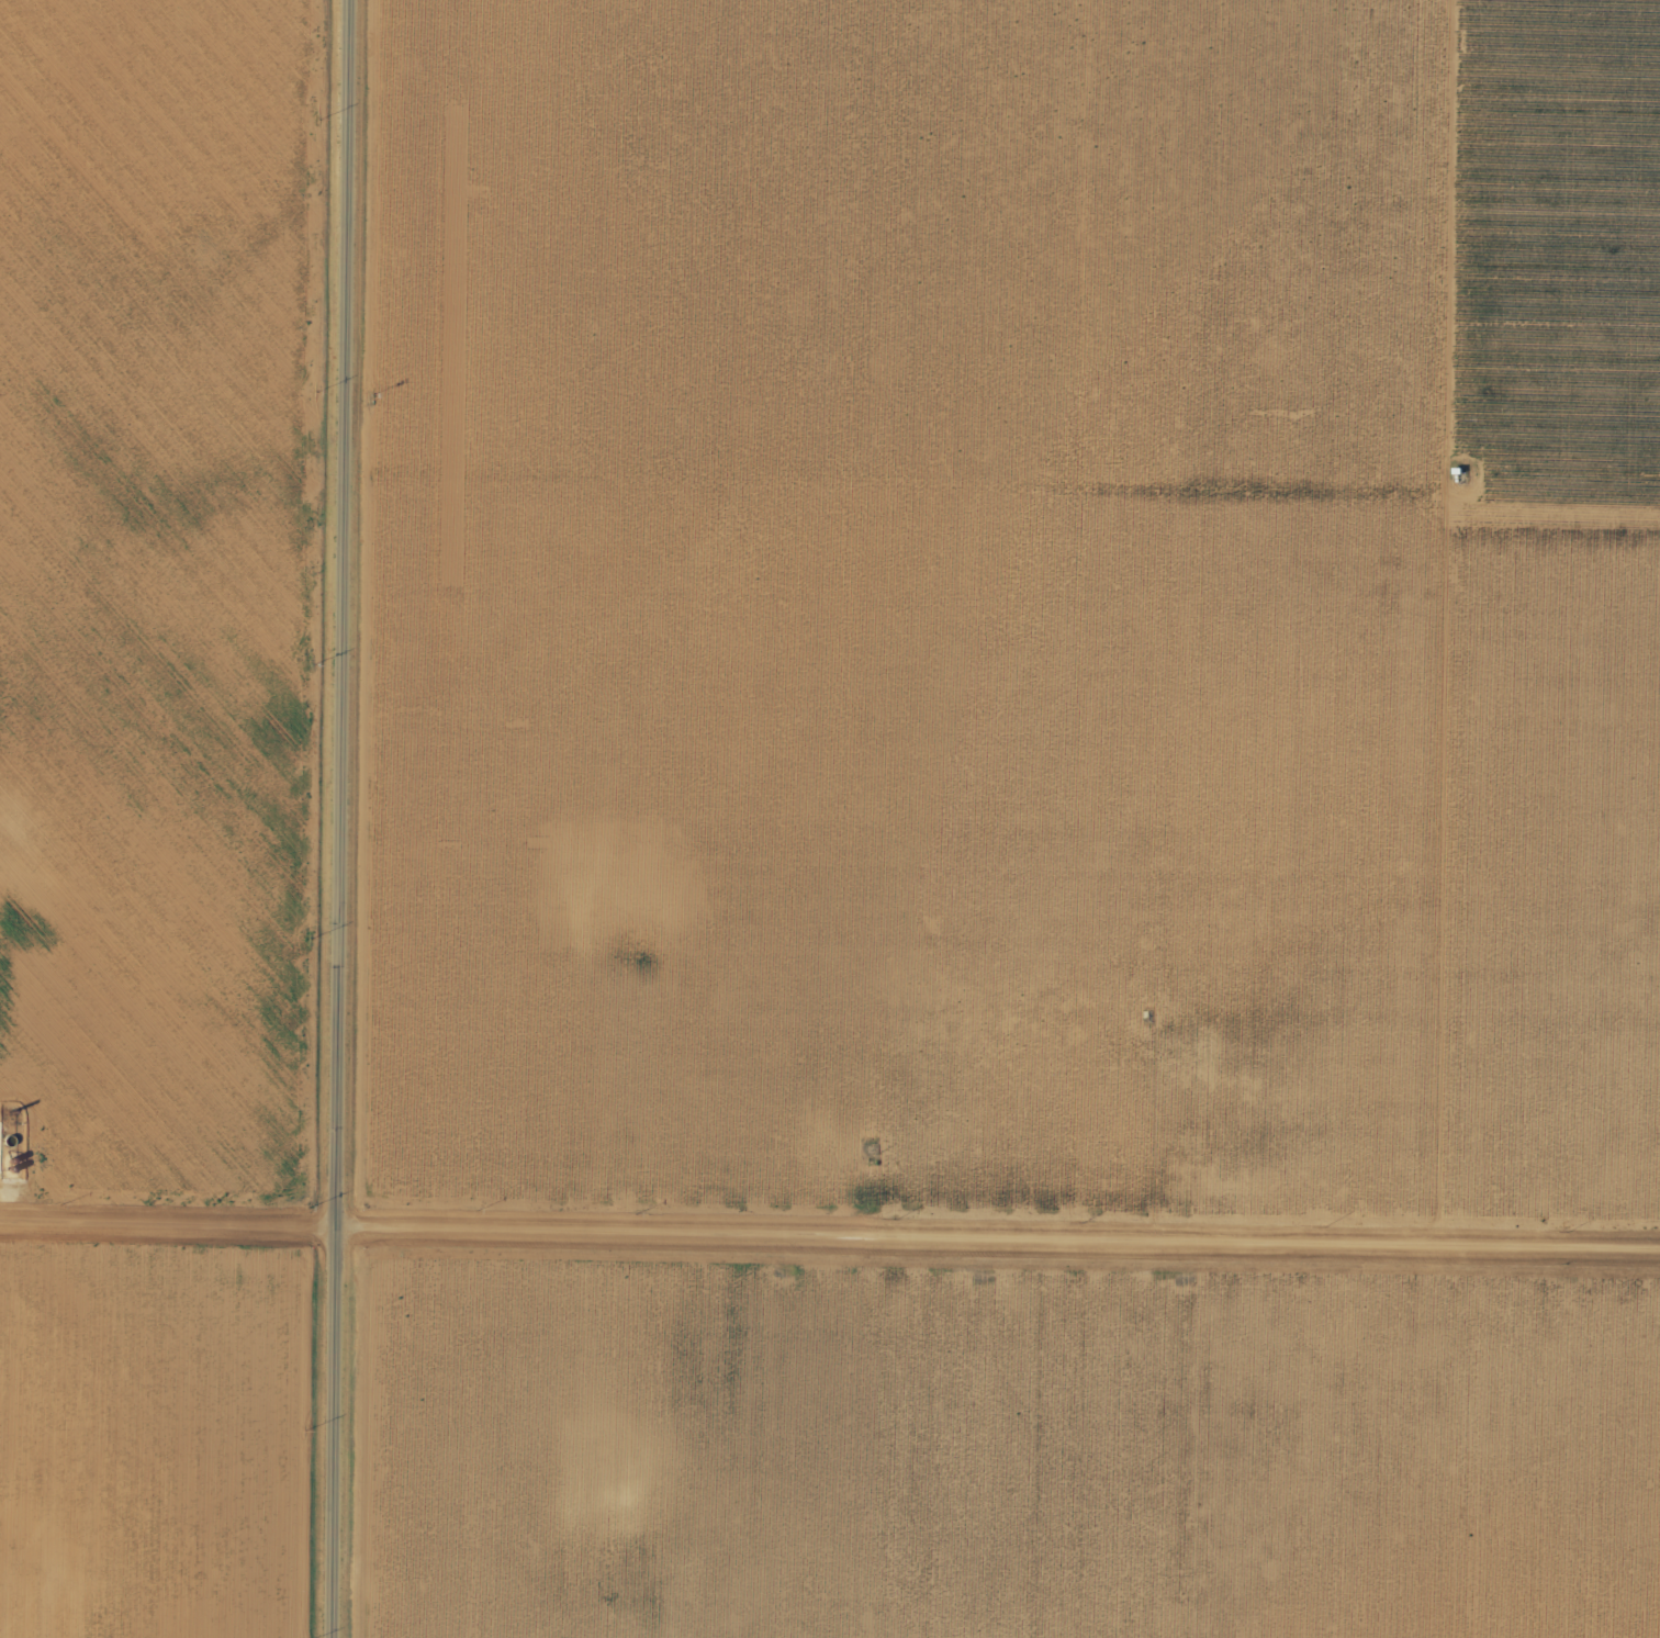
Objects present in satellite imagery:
road: (1478, 739)
road: (345, 818)
road: (830, 1256)
road: (1498, 1458)

